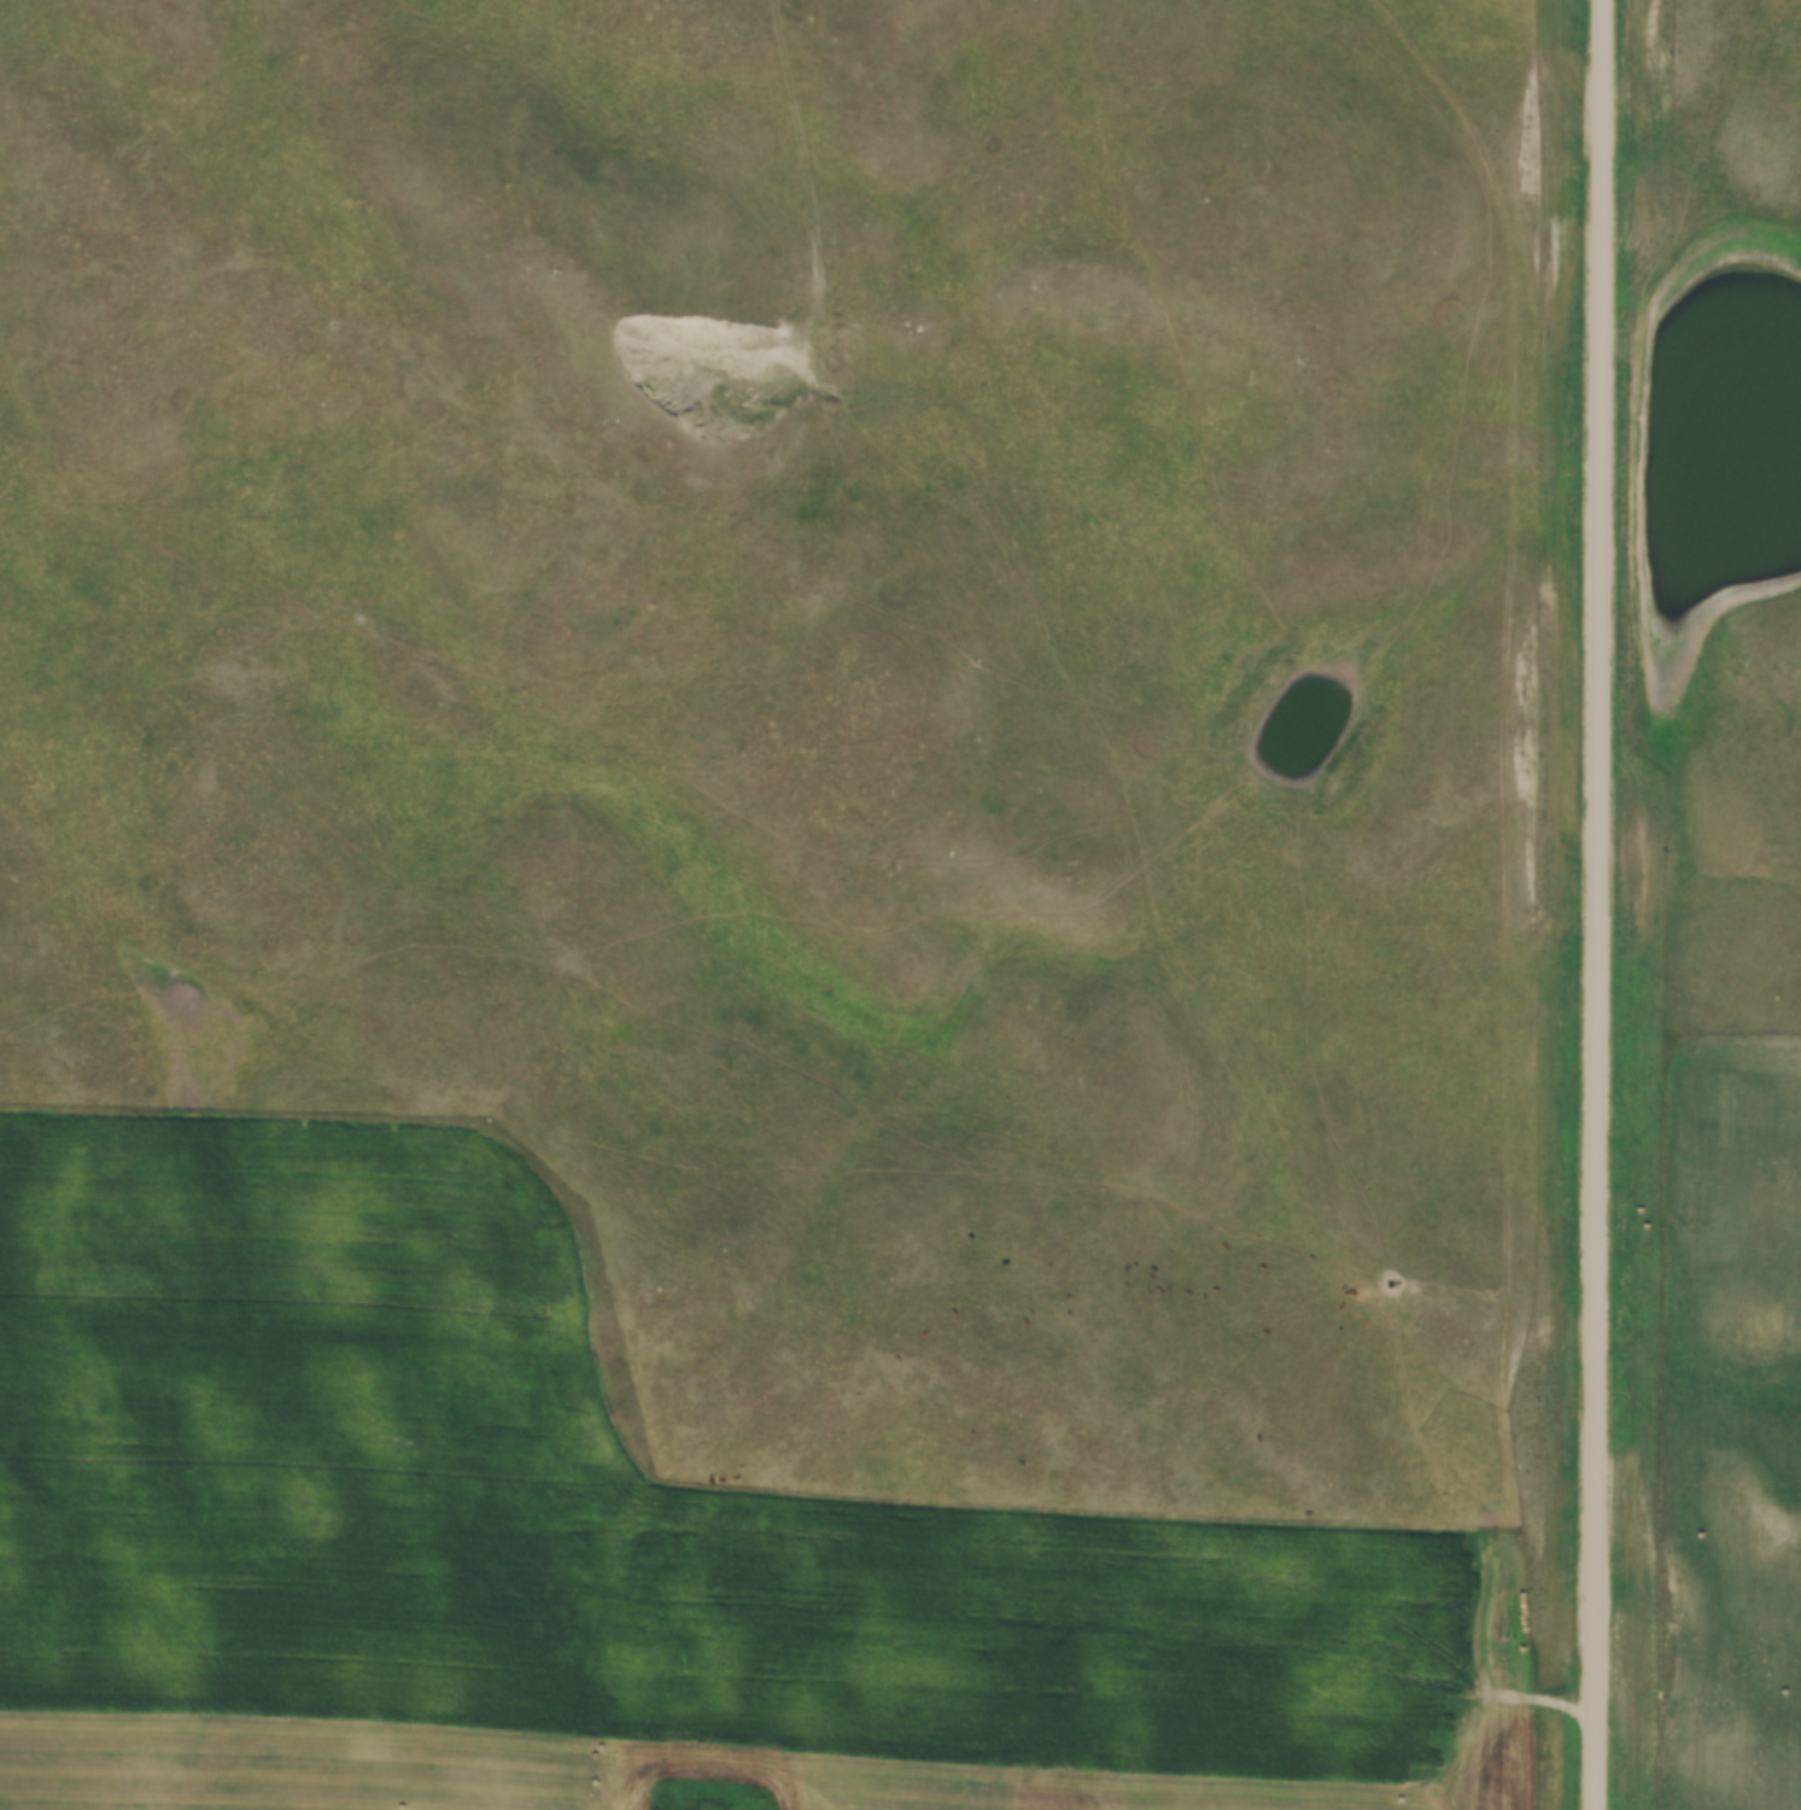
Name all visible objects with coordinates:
road: (819, 226)
quarry: (729, 378)
road: (1601, 904)
road: (806, 1530)

